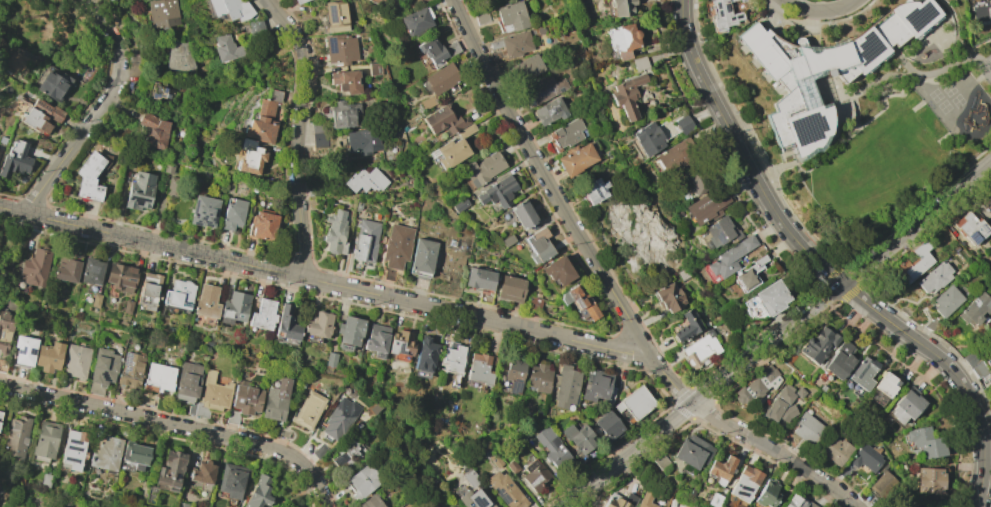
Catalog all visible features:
building: (108, 0)
building: (396, 0)
building: (742, 0)
building: (300, 1)
road: (68, 2)
road: (666, 5)
building: (621, 7)
building: (231, 8)
road: (820, 10)
building: (162, 13)
building: (723, 14)
building: (335, 16)
building: (511, 16)
building: (481, 17)
building: (416, 20)
building: (255, 27)
road: (670, 29)
park: (53, 33)
building: (622, 40)
building: (517, 44)
road: (674, 45)
building: (227, 48)
building: (340, 48)
road: (118, 51)
building: (434, 52)
building: (179, 57)
building: (639, 63)
park: (989, 64)
building: (527, 68)
building: (375, 69)
building: (824, 70)
building: (86, 72)
building: (345, 81)
building: (438, 83)
building: (773, 83)
building: (53, 84)
building: (542, 89)
park: (948, 90)
building: (158, 91)
road: (706, 91)
building: (627, 94)
park: (934, 95)
park: (956, 101)
park: (943, 106)
building: (550, 111)
road: (704, 112)
building: (343, 113)
building: (41, 116)
building: (262, 119)
building: (443, 120)
building: (683, 124)
building: (317, 126)
road: (712, 126)
building: (154, 129)
road: (299, 134)
building: (565, 134)
building: (647, 138)
building: (362, 140)
building: (452, 149)
road: (727, 154)
road: (714, 155)
building: (248, 156)
building: (675, 156)
building: (576, 158)
building: (15, 159)
road: (60, 162)
building: (167, 166)
building: (483, 169)
building: (89, 177)
building: (365, 181)
building: (695, 182)
road: (742, 182)
building: (173, 186)
building: (595, 190)
building: (139, 191)
building: (498, 192)
road: (765, 198)
building: (986, 203)
building: (460, 205)
building: (707, 205)
road: (11, 210)
building: (203, 211)
building: (232, 213)
building: (523, 214)
building: (261, 226)
road: (768, 228)
road: (785, 228)
building: (972, 228)
building: (719, 232)
building: (335, 233)
building: (507, 240)
road: (778, 241)
building: (365, 242)
park: (642, 245)
road: (781, 245)
building: (396, 246)
building: (538, 246)
building: (422, 256)
park: (10, 257)
building: (729, 257)
road: (816, 261)
building: (915, 262)
building: (67, 267)
building: (35, 268)
building: (557, 271)
road: (849, 271)
building: (752, 273)
building: (91, 274)
building: (934, 277)
building: (120, 278)
building: (480, 282)
road: (334, 285)
building: (510, 288)
building: (148, 290)
road: (612, 292)
building: (178, 296)
building: (669, 296)
road: (821, 296)
building: (771, 297)
building: (95, 300)
building: (207, 301)
building: (946, 301)
building: (532, 303)
building: (578, 303)
road: (835, 304)
building: (127, 307)
building: (234, 308)
building: (975, 309)
road: (854, 311)
building: (263, 314)
road: (859, 316)
road: (865, 320)
building: (286, 324)
building: (318, 325)
building: (687, 326)
building: (4, 329)
road: (879, 331)
building: (349, 332)
road: (777, 333)
building: (376, 340)
building: (401, 342)
building: (819, 344)
road: (896, 344)
building: (700, 349)
building: (24, 350)
road: (908, 352)
building: (425, 354)
building: (48, 356)
road: (916, 357)
building: (452, 358)
building: (330, 359)
building: (75, 360)
building: (839, 360)
building: (988, 362)
building: (479, 368)
road: (931, 368)
building: (131, 369)
building: (102, 370)
building: (405, 370)
road: (952, 372)
building: (514, 374)
building: (862, 374)
building: (158, 377)
building: (538, 378)
road: (944, 381)
building: (815, 382)
building: (886, 384)
road: (930, 384)
building: (188, 385)
building: (565, 385)
building: (757, 385)
building: (597, 386)
building: (822, 388)
building: (800, 392)
building: (786, 394)
building: (212, 395)
building: (146, 397)
building: (276, 400)
building: (244, 402)
building: (634, 402)
building: (906, 405)
building: (375, 407)
building: (772, 409)
building: (307, 410)
building: (0, 413)
building: (787, 413)
building: (340, 418)
building: (607, 424)
road: (176, 426)
building: (807, 429)
building: (284, 433)
building: (16, 437)
building: (578, 437)
building: (45, 441)
building: (925, 442)
road: (969, 444)
building: (552, 448)
building: (73, 450)
building: (320, 450)
building: (835, 450)
building: (690, 451)
building: (106, 454)
building: (135, 454)
building: (345, 454)
building: (865, 457)
building: (494, 460)
building: (660, 461)
building: (512, 466)
road: (970, 467)
building: (721, 468)
building: (170, 470)
building: (202, 473)
building: (535, 475)
building: (471, 478)
building: (45, 480)
building: (232, 480)
building: (928, 480)
building: (362, 481)
building: (745, 483)
road: (985, 484)
building: (883, 485)
park: (10, 488)
building: (505, 490)
building: (259, 493)
building: (767, 493)
building: (472, 497)
building: (714, 499)
building: (645, 500)
building: (797, 501)
building: (371, 502)
building: (615, 503)
building: (182, 504)

